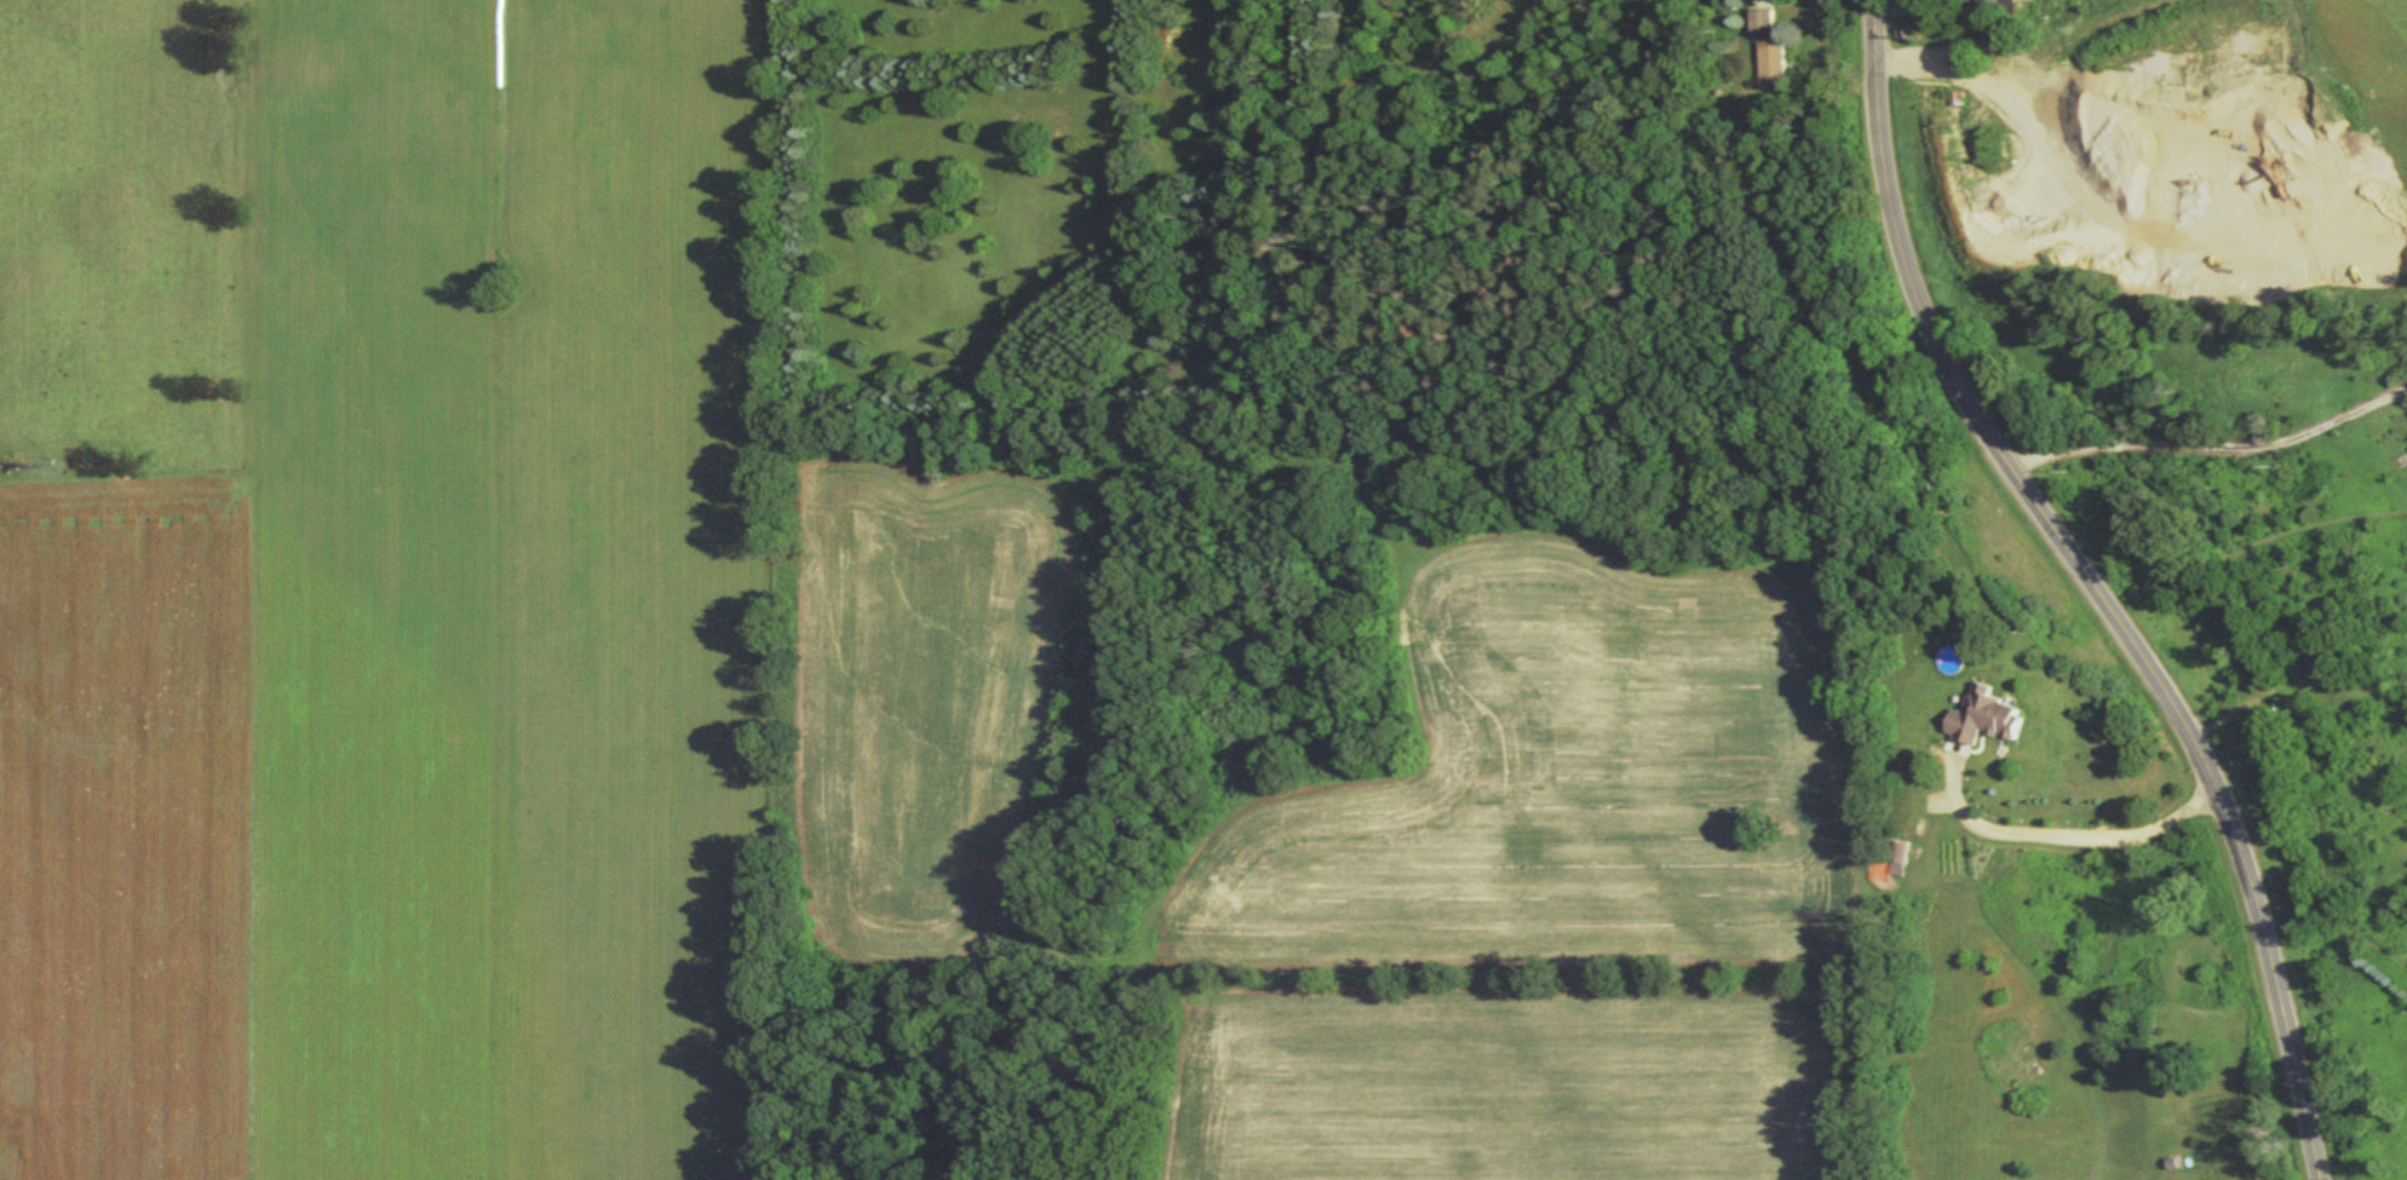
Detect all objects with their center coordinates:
building: (1997, 10)
building: (1764, 25)
building: (1774, 65)
road: (2213, 447)
road: (2096, 587)
building: (2321, 669)
building: (1989, 723)
road: (2070, 835)
building: (1136, 952)

